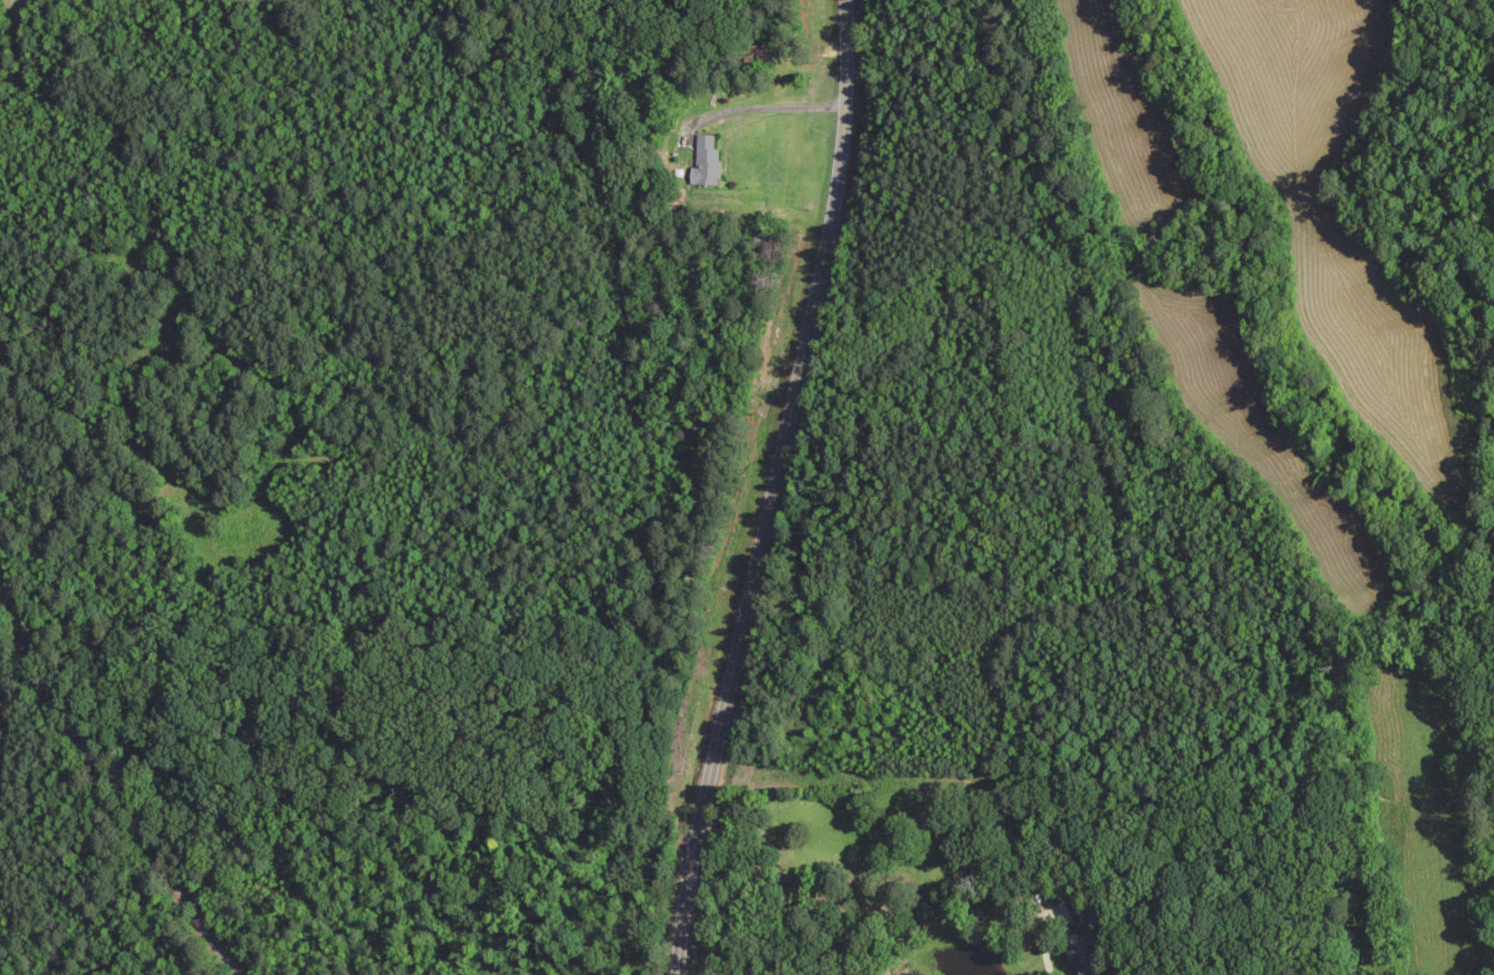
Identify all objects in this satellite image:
building: (705, 162)
road: (773, 488)
road: (112, 764)
building: (1009, 840)
building: (1082, 960)

